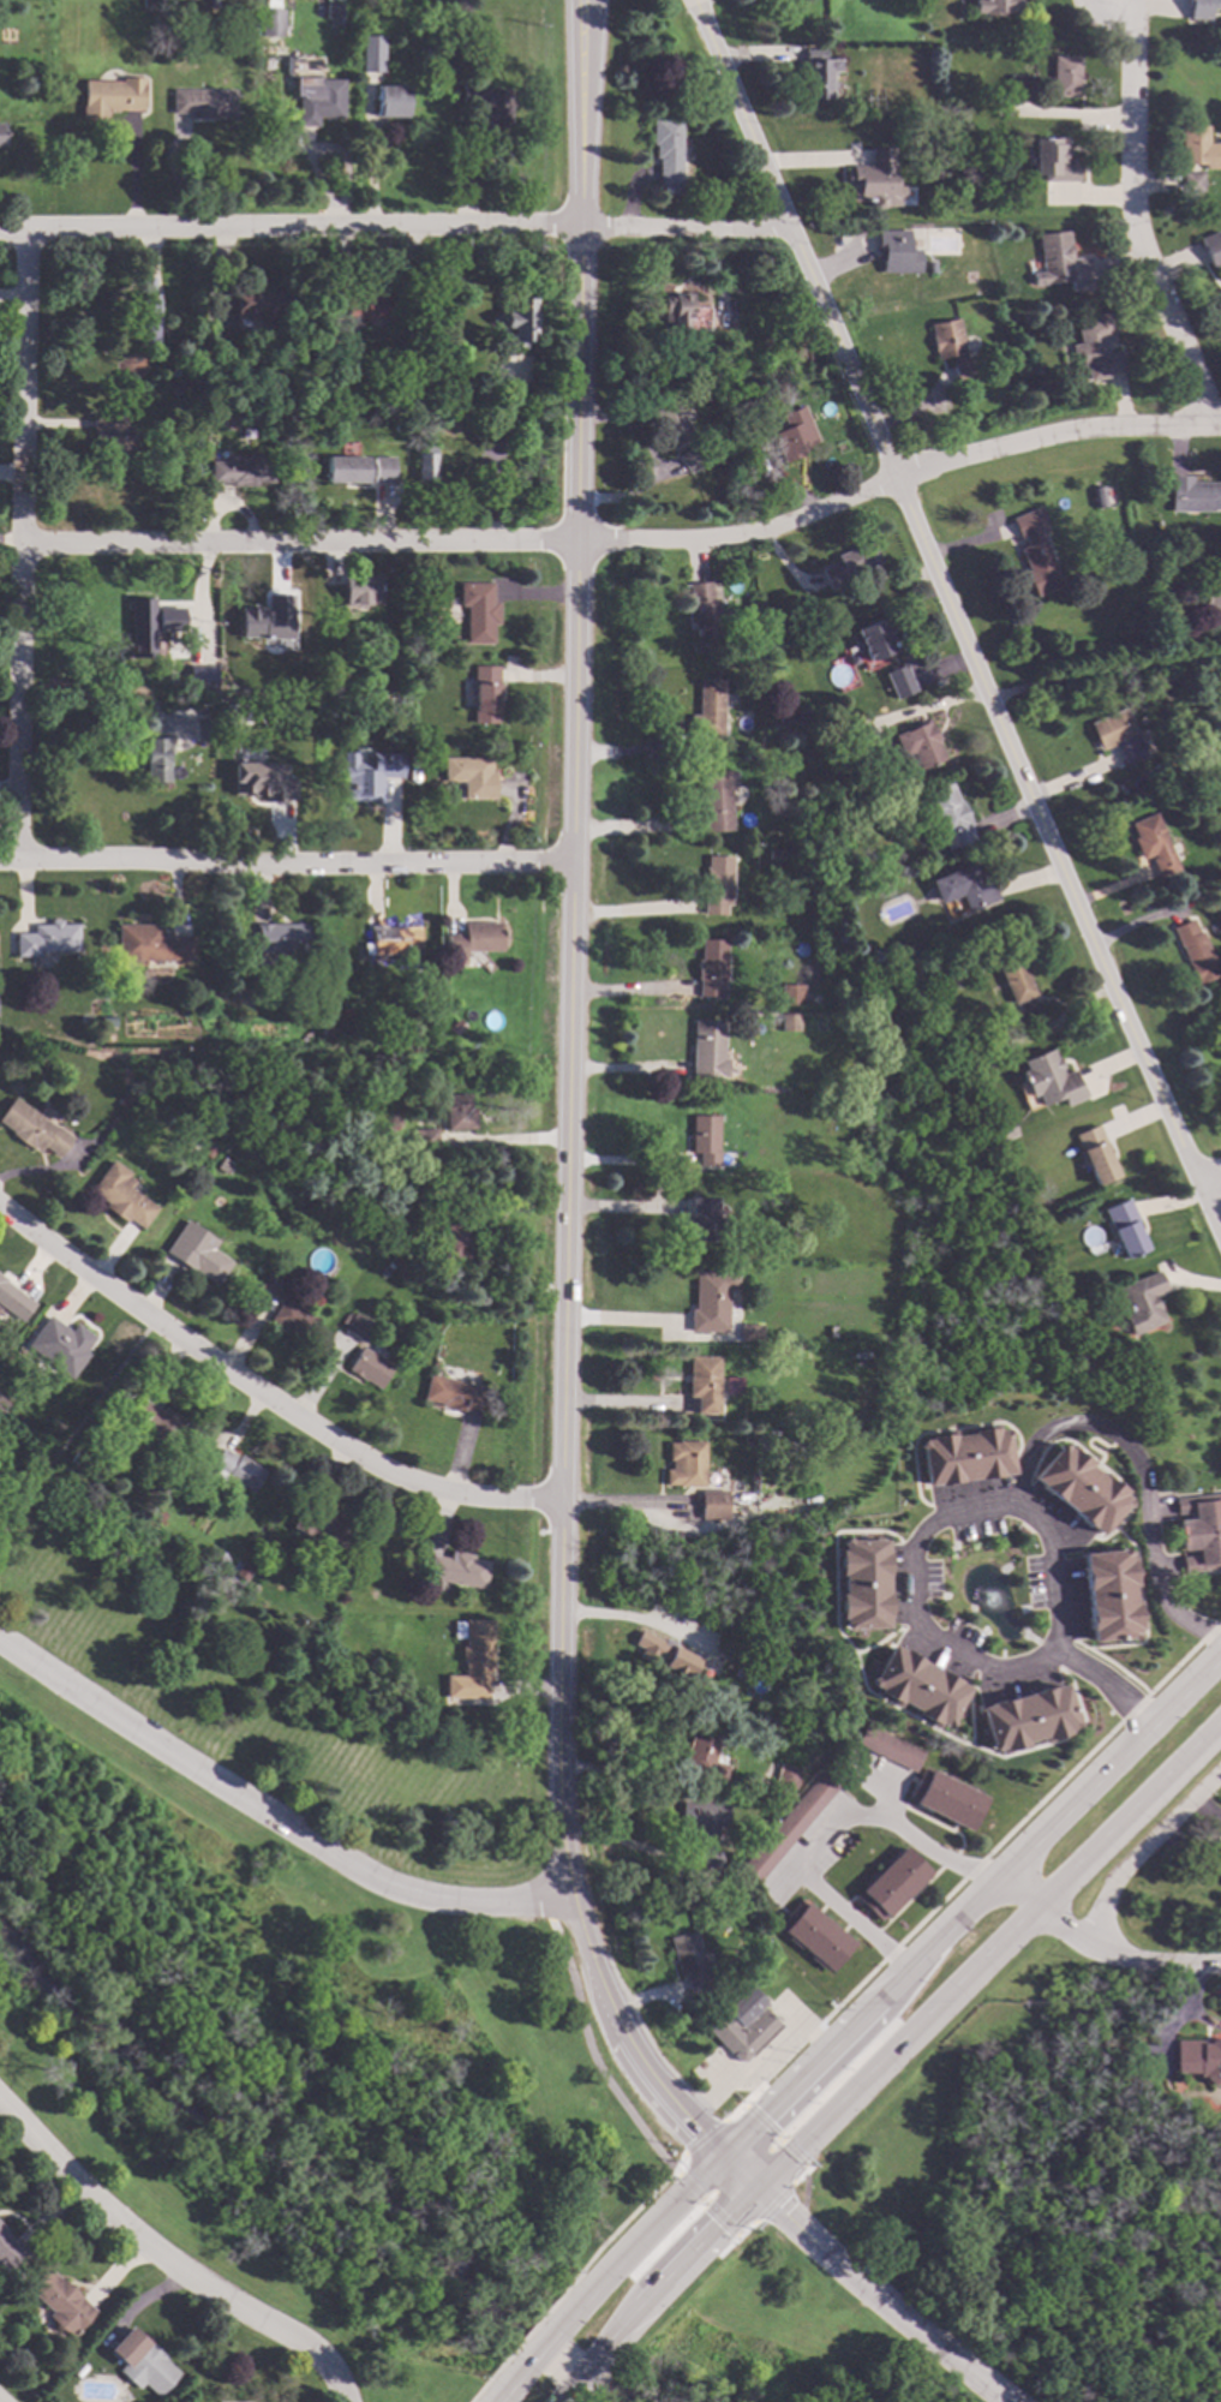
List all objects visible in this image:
building: (211, 2)
building: (145, 4)
building: (995, 6)
building: (1201, 8)
building: (333, 10)
building: (273, 22)
building: (268, 46)
building: (433, 49)
building: (371, 53)
building: (818, 73)
building: (1065, 74)
road: (574, 79)
road: (587, 79)
building: (1021, 85)
building: (110, 96)
building: (391, 101)
building: (321, 102)
building: (204, 103)
building: (489, 103)
building: (2, 133)
building: (1199, 147)
building: (471, 149)
building: (666, 149)
building: (1053, 159)
building: (875, 179)
building: (1191, 181)
building: (1004, 195)
building: (957, 203)
road: (1139, 216)
road: (393, 226)
building: (1211, 247)
building: (896, 251)
building: (1059, 262)
building: (932, 267)
building: (369, 304)
building: (261, 305)
building: (316, 312)
building: (684, 312)
building: (148, 317)
building: (519, 321)
building: (951, 347)
building: (1095, 347)
building: (194, 368)
building: (222, 377)
building: (1036, 386)
building: (173, 390)
building: (684, 396)
building: (1010, 396)
building: (222, 413)
building: (670, 423)
building: (399, 426)
building: (113, 432)
building: (792, 434)
building: (690, 458)
building: (425, 462)
building: (244, 468)
building: (359, 468)
building: (1193, 495)
building: (1099, 496)
road: (629, 539)
road: (22, 543)
building: (1035, 551)
building: (719, 557)
building: (849, 564)
building: (361, 591)
building: (154, 608)
building: (1213, 609)
building: (478, 611)
building: (430, 613)
building: (705, 613)
road: (957, 613)
building: (268, 620)
building: (306, 629)
building: (873, 638)
building: (419, 662)
road: (1107, 675)
building: (202, 679)
building: (899, 680)
building: (173, 683)
building: (484, 694)
road: (102, 710)
building: (708, 710)
building: (801, 712)
building: (784, 718)
building: (845, 724)
building: (204, 730)
building: (235, 735)
building: (1118, 735)
building: (918, 743)
building: (394, 749)
building: (747, 753)
building: (156, 760)
building: (365, 776)
building: (471, 776)
building: (263, 782)
building: (717, 799)
building: (948, 815)
building: (1155, 846)
building: (774, 853)
road: (283, 860)
building: (717, 883)
building: (964, 886)
road: (629, 913)
building: (282, 937)
building: (47, 938)
building: (393, 940)
building: (473, 940)
building: (151, 944)
building: (1195, 950)
building: (711, 967)
building: (1019, 988)
building: (791, 993)
building: (85, 1018)
building: (1220, 1020)
building: (107, 1021)
building: (789, 1021)
building: (363, 1027)
building: (455, 1027)
building: (328, 1033)
road: (564, 1033)
building: (981, 1036)
building: (707, 1047)
building: (1049, 1078)
building: (457, 1112)
building: (34, 1129)
building: (1006, 1129)
building: (704, 1136)
building: (425, 1139)
building: (209, 1151)
building: (1094, 1153)
road: (1214, 1184)
building: (122, 1195)
building: (303, 1215)
building: (429, 1217)
building: (702, 1218)
building: (1124, 1226)
building: (455, 1241)
building: (202, 1259)
building: (273, 1283)
building: (711, 1298)
building: (13, 1299)
building: (1141, 1302)
building: (1076, 1303)
building: (293, 1319)
road: (645, 1324)
building: (358, 1326)
building: (832, 1330)
building: (750, 1331)
building: (65, 1345)
building: (370, 1367)
building: (704, 1381)
road: (262, 1390)
building: (455, 1394)
road: (622, 1405)
building: (790, 1422)
building: (150, 1423)
building: (54, 1426)
building: (749, 1436)
building: (969, 1453)
building: (74, 1458)
building: (686, 1463)
building: (238, 1469)
road: (1142, 1476)
building: (1083, 1484)
building: (119, 1499)
building: (713, 1504)
road: (620, 1505)
building: (155, 1513)
building: (328, 1528)
building: (1024, 1530)
building: (1199, 1530)
road: (1053, 1546)
building: (223, 1558)
building: (244, 1570)
building: (457, 1570)
building: (863, 1585)
building: (1113, 1594)
road: (630, 1620)
building: (665, 1654)
building: (376, 1661)
building: (473, 1661)
building: (734, 1671)
park: (250, 1685)
road: (1105, 1685)
building: (387, 1689)
building: (918, 1689)
building: (1027, 1719)
building: (887, 1746)
building: (705, 1752)
building: (838, 1756)
road: (620, 1774)
building: (786, 1775)
building: (946, 1799)
road: (268, 1818)
building: (789, 1826)
building: (705, 1828)
road: (819, 1832)
road: (621, 1845)
road: (1144, 1848)
building: (1217, 1868)
building: (729, 1872)
road: (971, 1872)
building: (892, 1883)
building: (814, 1934)
road: (1102, 1947)
building: (690, 1960)
road: (593, 1973)
road: (885, 1992)
road: (1189, 2004)
building: (734, 2016)
road: (906, 2042)
road: (588, 2049)
road: (756, 2059)
building: (1199, 2059)
park: (303, 2069)
road: (676, 2111)
road: (776, 2137)
road: (704, 2138)
river: (305, 2159)
road: (680, 2162)
road: (798, 2175)
road: (803, 2198)
road: (773, 2201)
road: (706, 2203)
road: (736, 2237)
road: (604, 2241)
building: (8, 2249)
park: (959, 2259)
road: (167, 2264)
road: (870, 2288)
building: (59, 2301)
road: (527, 2334)
road: (544, 2350)
building: (140, 2361)
road: (491, 2376)
road: (581, 2380)
road: (515, 2385)
road: (564, 2400)

